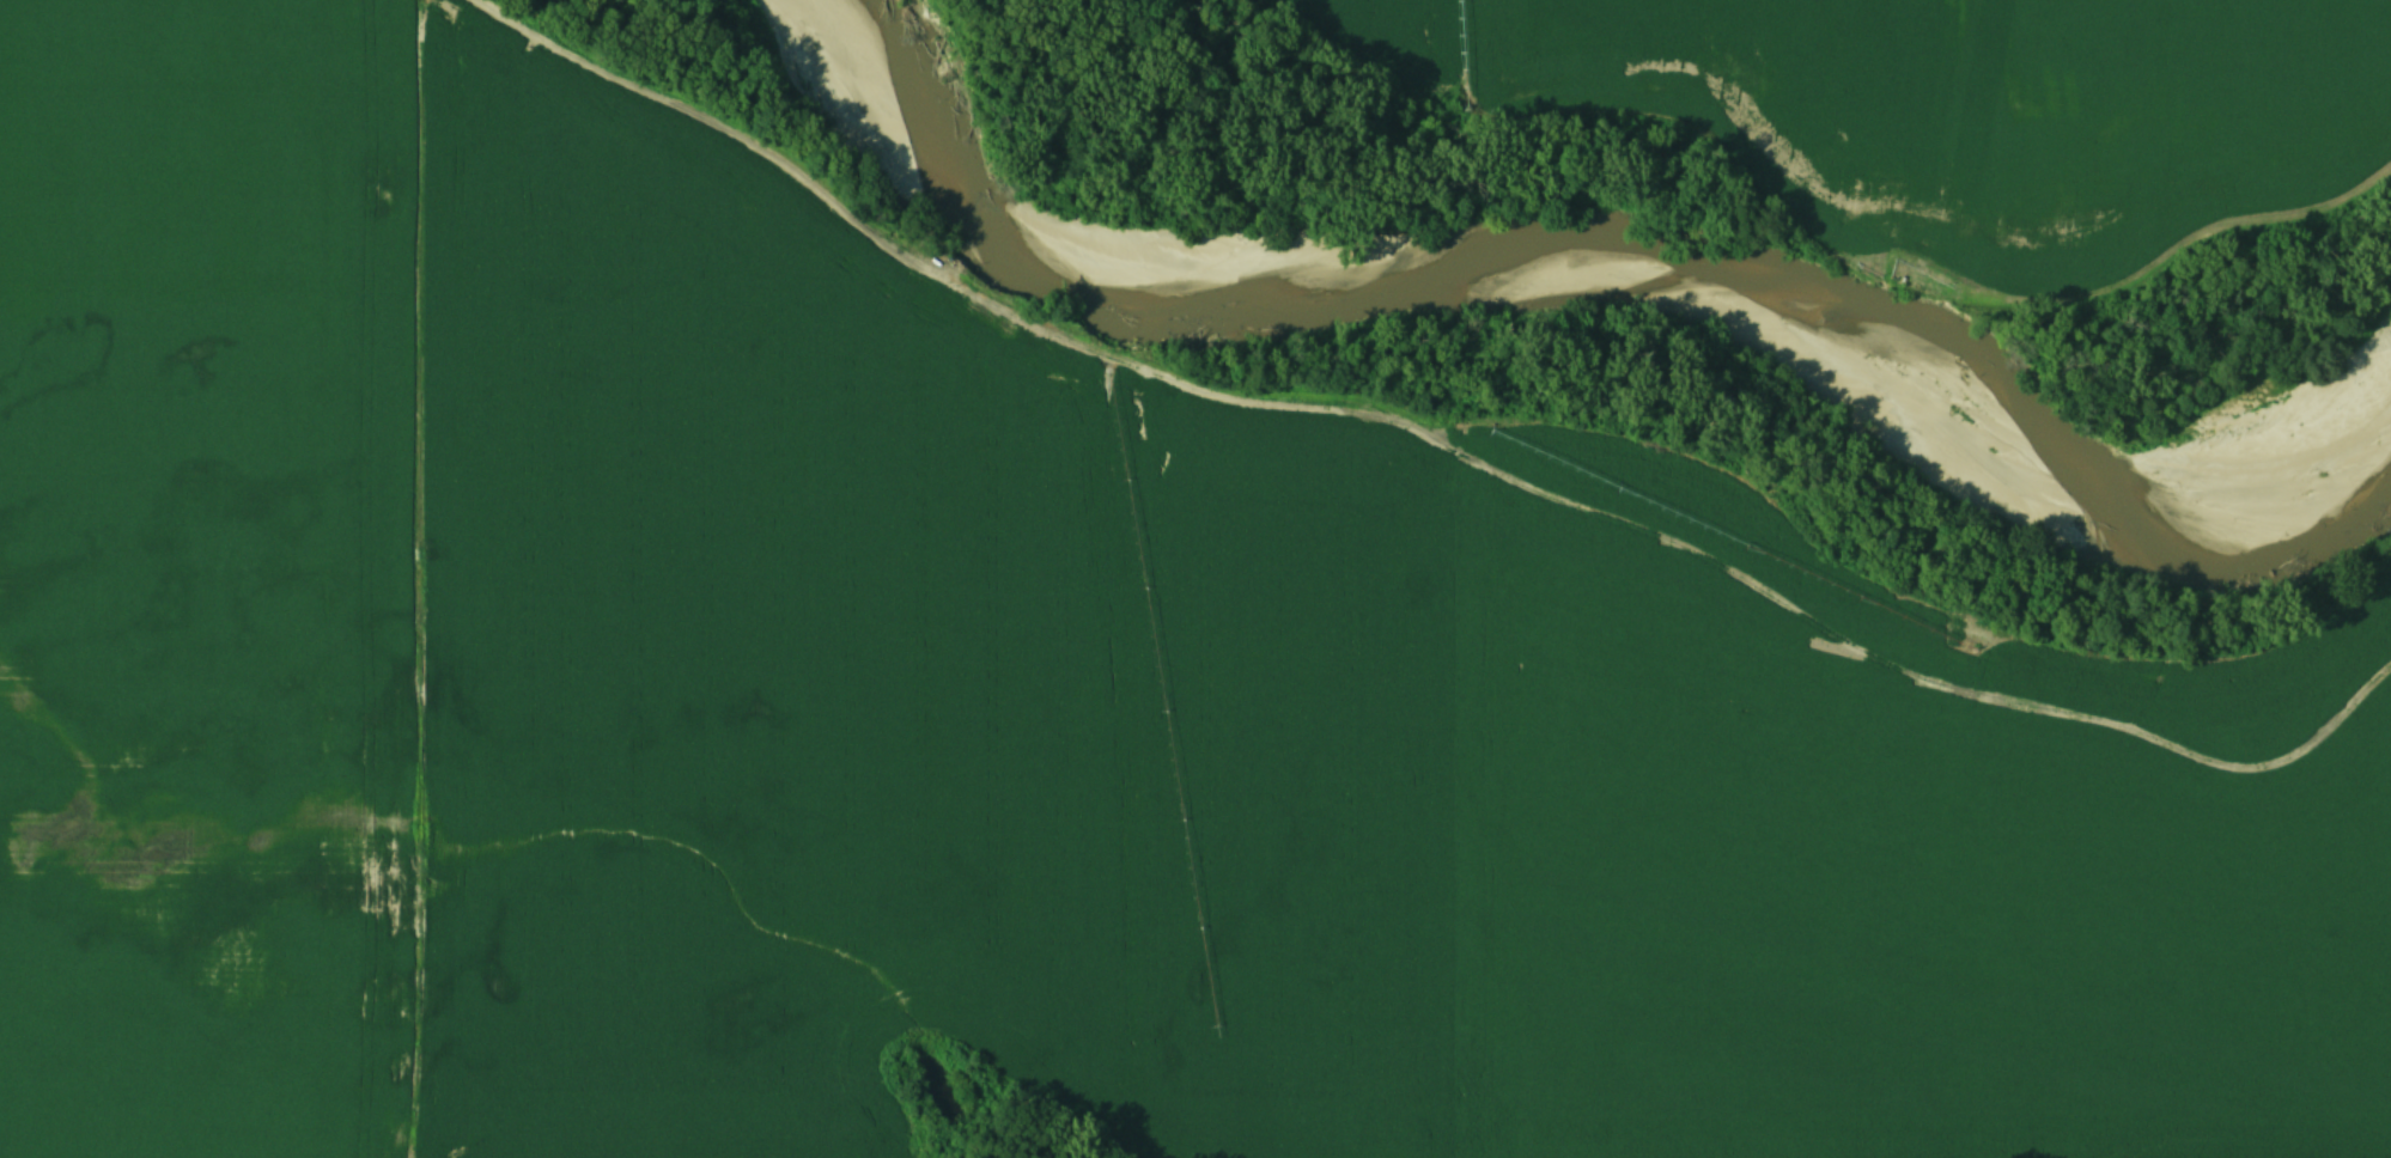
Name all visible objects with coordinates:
river: (1606, 255)
road: (415, 579)

